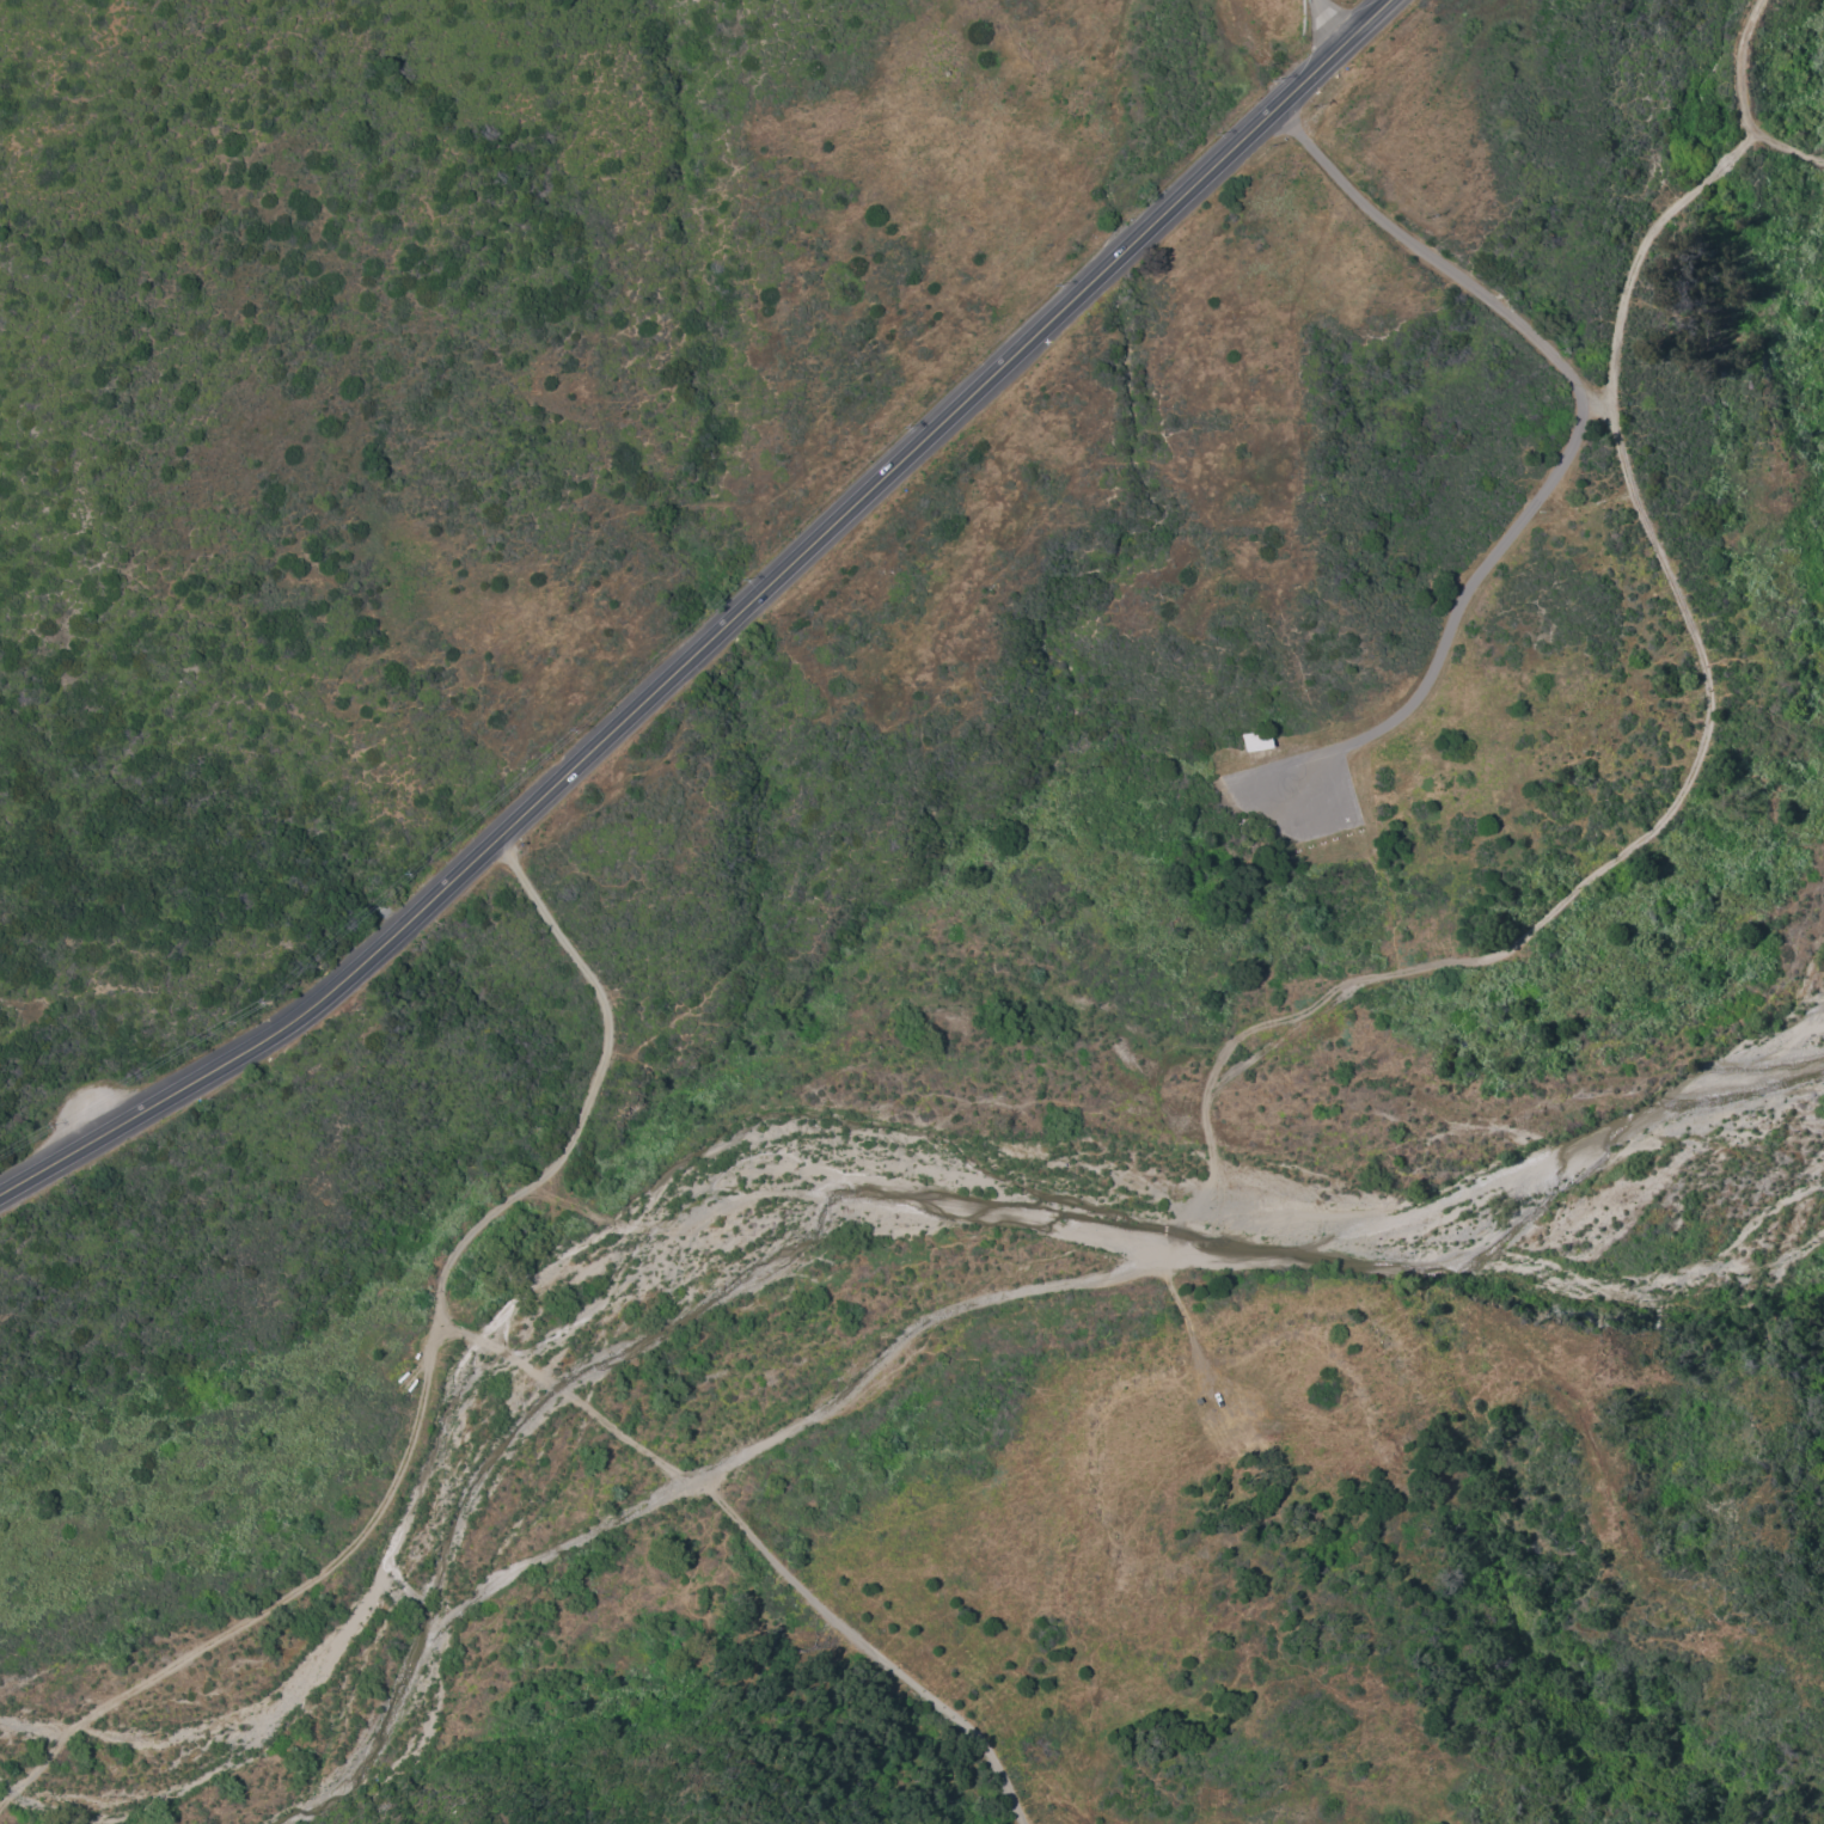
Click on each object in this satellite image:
road: (1324, 24)
road: (1684, 197)
road: (863, 498)
road: (1425, 686)
road: (1530, 932)
road: (258, 1034)
road: (93, 1134)
road: (433, 1357)
road: (802, 1583)
road: (453, 1614)
road: (986, 1738)

